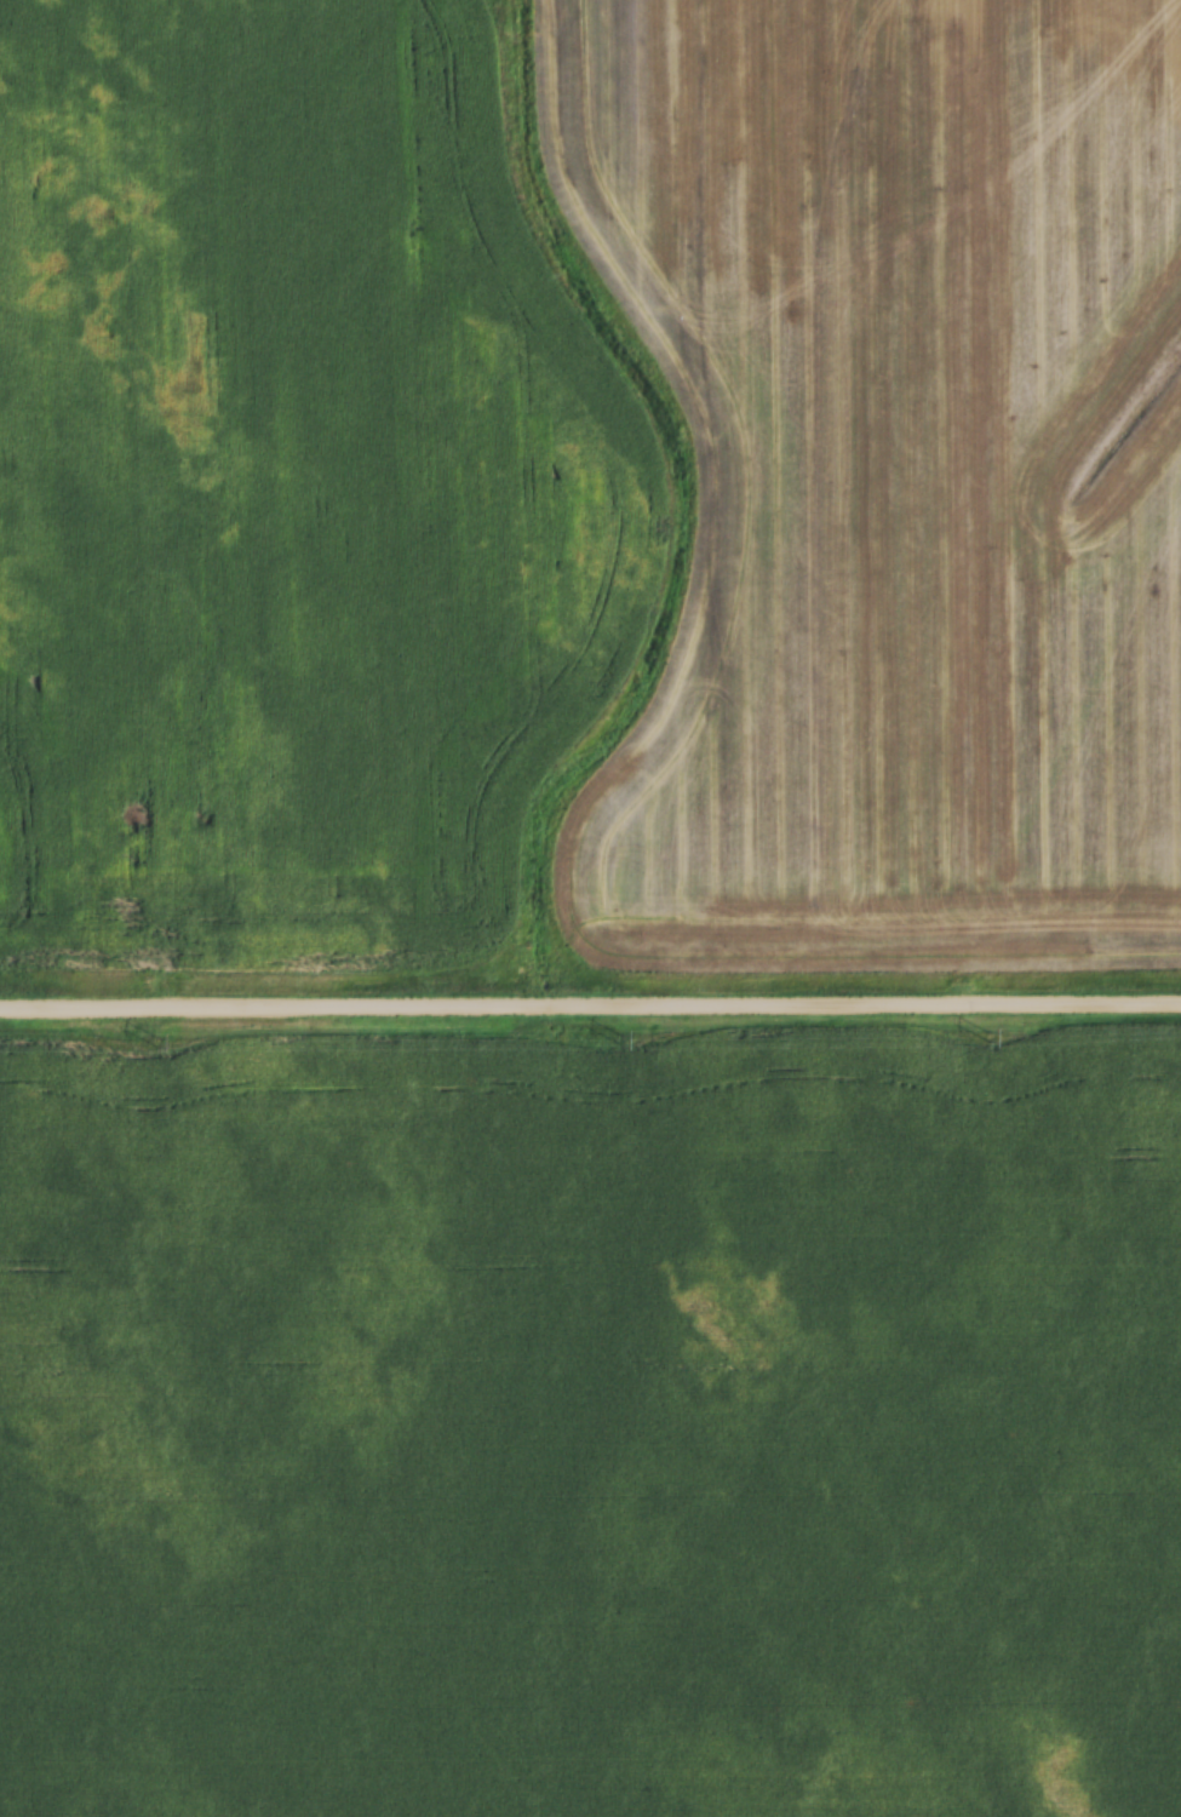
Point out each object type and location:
road: (590, 999)
power tower: (988, 1036)
power tower: (617, 1037)
power tower: (153, 1038)

